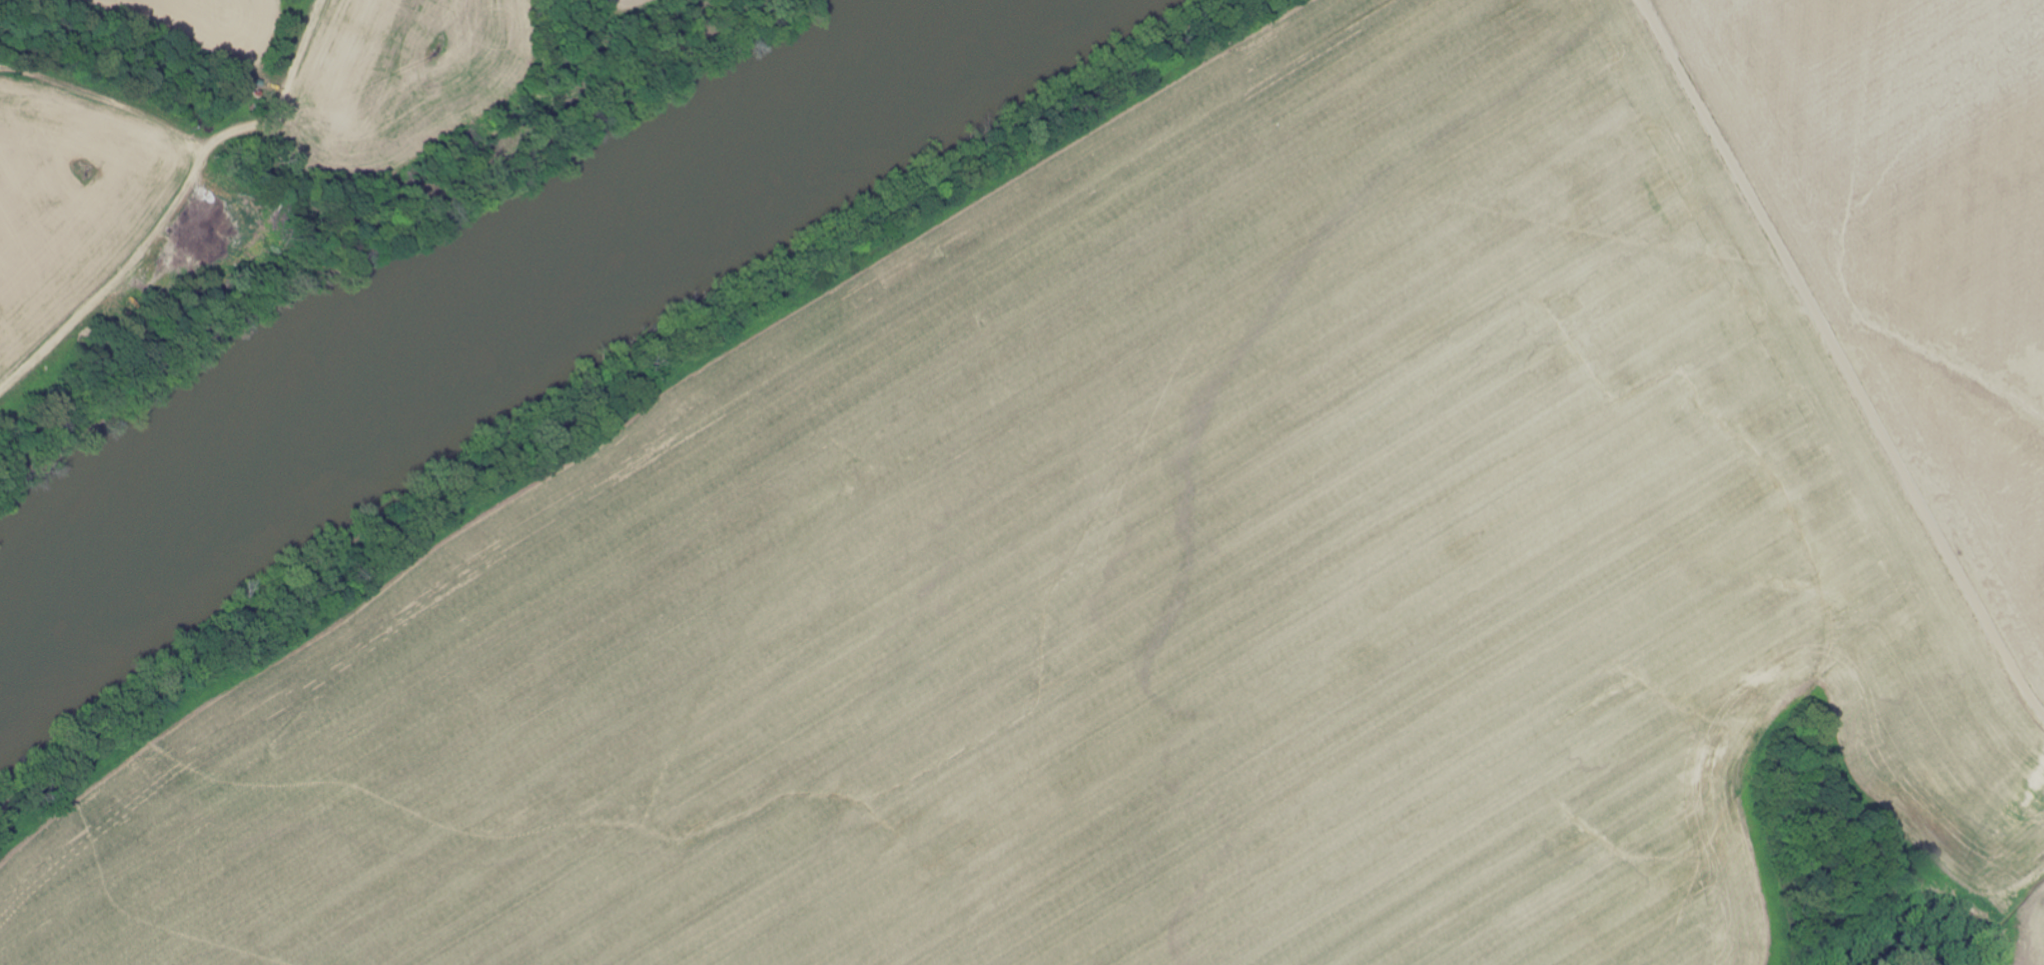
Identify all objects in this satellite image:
road: (1649, 18)
river: (459, 280)
road: (1849, 376)

